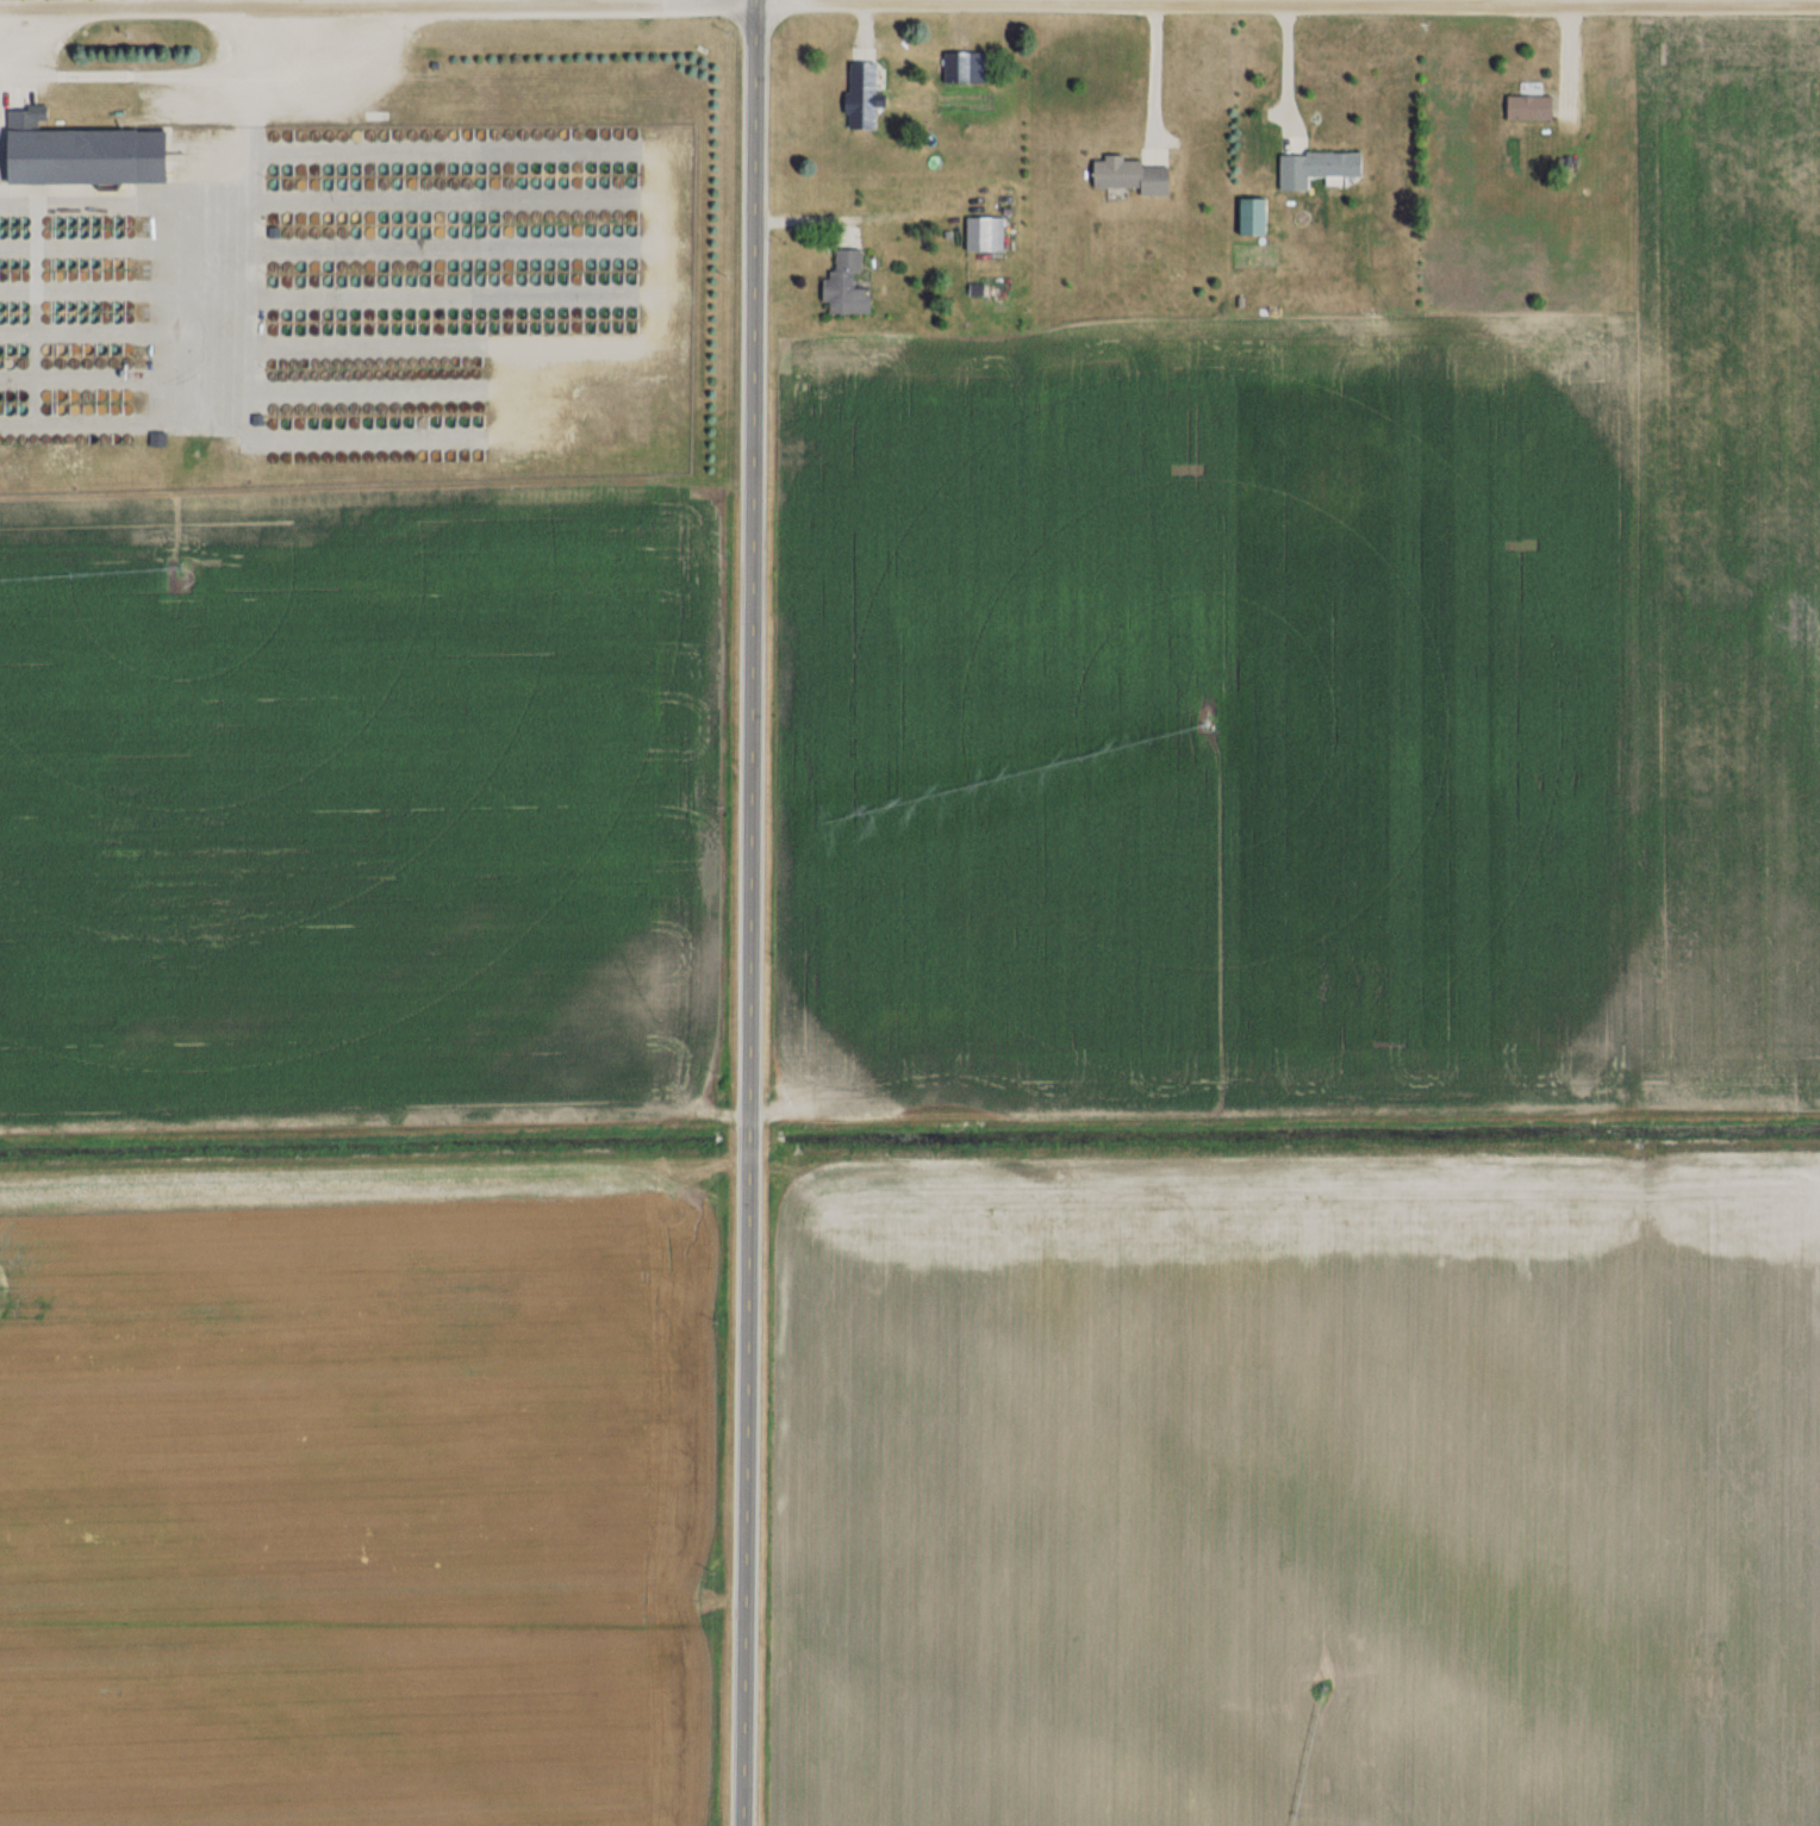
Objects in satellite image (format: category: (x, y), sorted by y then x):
road: (909, 1)
road: (1377, 1)
road: (1502, 1)
road: (1690, 1)
road: (45, 29)
road: (224, 33)
building: (959, 68)
road: (1290, 71)
road: (1157, 73)
road: (192, 74)
road: (40, 82)
building: (870, 95)
building: (1522, 107)
road: (253, 119)
storage tank: (456, 133)
storage tank: (469, 133)
storage tank: (484, 133)
storage tank: (345, 135)
storage tank: (359, 135)
storage tank: (373, 135)
storage tank: (386, 135)
storage tank: (400, 135)
storage tank: (413, 135)
storage tank: (426, 135)
storage tank: (441, 135)
storage tank: (276, 136)
storage tank: (291, 136)
storage tank: (305, 136)
storage tank: (318, 136)
storage tank: (332, 136)
building: (83, 152)
road: (362, 152)
storage tank: (426, 168)
storage tank: (441, 168)
storage tank: (456, 168)
storage tank: (469, 168)
storage tank: (484, 168)
building: (1311, 168)
storage tank: (318, 169)
storage tank: (331, 169)
storage tank: (345, 169)
storage tank: (359, 169)
storage tank: (373, 169)
storage tank: (386, 169)
storage tank: (399, 169)
storage tank: (413, 169)
storage tank: (276, 170)
storage tank: (291, 170)
storage tank: (305, 170)
building: (1126, 176)
storage tank: (456, 182)
storage tank: (470, 182)
storage tank: (484, 182)
storage tank: (332, 183)
storage tank: (345, 183)
storage tank: (360, 183)
storage tank: (373, 183)
storage tank: (387, 183)
storage tank: (400, 183)
storage tank: (413, 183)
storage tank: (428, 183)
storage tank: (442, 183)
storage tank: (278, 185)
storage tank: (291, 185)
storage tank: (305, 185)
storage tank: (318, 185)
road: (362, 201)
road: (113, 202)
storage tank: (386, 217)
storage tank: (399, 217)
storage tank: (413, 217)
storage tank: (426, 217)
storage tank: (441, 217)
storage tank: (456, 217)
storage tank: (469, 217)
storage tank: (484, 217)
building: (1245, 217)
storage tank: (276, 218)
storage tank: (291, 218)
storage tank: (305, 218)
storage tank: (318, 218)
storage tank: (331, 218)
storage tank: (345, 218)
storage tank: (359, 218)
storage tank: (373, 218)
storage tank: (27, 220)
storage tank: (74, 220)
storage tank: (85, 220)
storage tank: (96, 220)
storage tank: (108, 220)
storage tank: (120, 220)
storage tank: (132, 220)
storage tank: (4, 222)
storage tank: (15, 222)
storage tank: (50, 222)
storage tank: (62, 222)
storage tank: (413, 231)
storage tank: (428, 231)
storage tank: (442, 231)
storage tank: (456, 231)
storage tank: (470, 231)
storage tank: (484, 231)
storage tank: (85, 232)
storage tank: (96, 232)
storage tank: (108, 232)
storage tank: (120, 232)
storage tank: (132, 232)
storage tank: (291, 232)
storage tank: (305, 232)
storage tank: (318, 232)
storage tank: (332, 232)
storage tank: (345, 232)
storage tank: (360, 232)
storage tank: (373, 232)
storage tank: (387, 232)
storage tank: (400, 232)
storage tank: (4, 233)
storage tank: (14, 233)
storage tank: (26, 233)
storage tank: (50, 233)
storage tank: (62, 233)
storage tank: (73, 233)
storage tank: (278, 233)
building: (980, 235)
road: (113, 247)
road: (363, 250)
storage tank: (132, 262)
storage tank: (4, 263)
storage tank: (15, 263)
storage tank: (27, 263)
storage tank: (50, 263)
storage tank: (62, 263)
storage tank: (74, 263)
storage tank: (86, 263)
storage tank: (96, 263)
storage tank: (108, 263)
storage tank: (120, 263)
storage tank: (469, 264)
storage tank: (482, 264)
storage tank: (344, 266)
storage tank: (359, 266)
storage tank: (373, 266)
storage tank: (386, 266)
storage tank: (399, 266)
storage tank: (412, 266)
storage tank: (426, 266)
storage tank: (441, 266)
storage tank: (455, 266)
storage tank: (276, 267)
storage tank: (291, 267)
storage tank: (304, 267)
storage tank: (317, 267)
storage tank: (331, 267)
storage tank: (15, 275)
storage tank: (27, 275)
storage tank: (50, 275)
storage tank: (62, 275)
storage tank: (74, 275)
storage tank: (85, 275)
storage tank: (96, 275)
storage tank: (108, 275)
storage tank: (120, 275)
storage tank: (132, 275)
storage tank: (4, 276)
storage tank: (484, 279)
storage tank: (373, 280)
storage tank: (386, 280)
storage tank: (400, 280)
storage tank: (413, 280)
storage tank: (428, 280)
storage tank: (441, 280)
storage tank: (456, 280)
storage tank: (469, 280)
storage tank: (276, 281)
storage tank: (291, 281)
storage tank: (305, 281)
storage tank: (318, 281)
storage tank: (332, 281)
storage tank: (345, 281)
storage tank: (359, 281)
building: (852, 286)
road: (113, 291)
road: (363, 299)
storage tank: (73, 305)
storage tank: (85, 305)
storage tank: (96, 305)
storage tank: (107, 305)
storage tank: (119, 305)
storage tank: (131, 305)
storage tank: (2, 306)
storage tank: (14, 306)
storage tank: (26, 306)
storage tank: (49, 306)
storage tank: (61, 306)
storage tank: (428, 313)
storage tank: (441, 313)
storage tank: (456, 313)
storage tank: (469, 313)
storage tank: (484, 313)
storage tank: (318, 314)
storage tank: (332, 314)
storage tank: (345, 314)
storage tank: (359, 314)
storage tank: (373, 314)
storage tank: (386, 314)
storage tank: (400, 314)
storage tank: (413, 314)
storage tank: (276, 316)
storage tank: (291, 316)
storage tank: (305, 316)
storage tank: (131, 317)
storage tank: (2, 318)
storage tank: (14, 318)
storage tank: (26, 318)
storage tank: (49, 318)
storage tank: (61, 318)
storage tank: (71, 318)
storage tank: (83, 318)
storage tank: (95, 318)
storage tank: (107, 318)
storage tank: (119, 318)
storage tank: (442, 328)
storage tank: (456, 328)
storage tank: (470, 328)
storage tank: (485, 328)
storage tank: (332, 329)
storage tank: (347, 329)
storage tank: (360, 329)
storage tank: (374, 329)
storage tank: (387, 329)
storage tank: (400, 329)
storage tank: (415, 329)
storage tank: (428, 329)
storage tank: (278, 330)
storage tank: (292, 330)
storage tank: (306, 330)
storage tank: (319, 330)
road: (113, 335)
road: (363, 344)
storage tank: (12, 349)
storage tank: (24, 349)
storage tank: (48, 349)
storage tank: (60, 349)
storage tank: (70, 349)
storage tank: (82, 349)
storage tank: (94, 349)
storage tank: (106, 349)
storage tank: (118, 349)
storage tank: (130, 349)
storage tank: (2, 350)
storage tank: (407, 359)
storage tank: (422, 359)
storage tank: (436, 359)
storage tank: (450, 359)
storage tank: (465, 359)
storage tank: (479, 359)
storage tank: (312, 360)
storage tank: (326, 360)
storage tank: (341, 360)
storage tank: (354, 360)
storage tank: (368, 360)
storage tank: (381, 360)
storage tank: (394, 360)
storage tank: (70, 361)
storage tank: (82, 361)
storage tank: (94, 361)
storage tank: (106, 361)
storage tank: (118, 361)
storage tank: (129, 361)
storage tank: (272, 361)
storage tank: (286, 361)
storage tank: (300, 361)
storage tank: (2, 362)
storage tank: (12, 362)
storage tank: (24, 362)
storage tank: (48, 362)
storage tank: (58, 362)
storage tank: (436, 373)
storage tank: (451, 373)
storage tank: (465, 373)
storage tank: (479, 373)
storage tank: (328, 374)
storage tank: (341, 374)
storage tank: (355, 374)
storage tank: (368, 374)
storage tank: (381, 374)
storage tank: (395, 374)
storage tank: (409, 374)
storage tank: (423, 374)
storage tank: (273, 375)
storage tank: (286, 375)
storage tank: (300, 375)
storage tank: (313, 375)
road: (113, 379)
road: (363, 391)
storage tank: (10, 394)
storage tank: (48, 394)
storage tank: (61, 394)
storage tank: (75, 394)
storage tank: (88, 394)
storage tank: (101, 394)
storage tank: (116, 394)
storage tank: (129, 394)
storage tank: (1, 395)
storage tank: (24, 395)
storage tank: (411, 406)
storage tank: (425, 406)
storage tank: (440, 406)
storage tank: (454, 406)
storage tank: (468, 406)
storage tank: (481, 406)
storage tank: (130, 407)
storage tank: (288, 407)
storage tank: (303, 407)
storage tank: (316, 407)
storage tank: (330, 407)
storage tank: (343, 407)
storage tank: (357, 407)
storage tank: (370, 407)
storage tank: (385, 407)
storage tank: (398, 407)
storage tank: (1, 409)
storage tank: (11, 409)
storage tank: (24, 409)
storage tank: (49, 409)
storage tank: (62, 409)
storage tank: (75, 409)
storage tank: (89, 409)
storage tank: (102, 409)
storage tank: (116, 409)
storage tank: (275, 409)
storage tank: (426, 420)
storage tank: (440, 420)
storage tank: (455, 420)
storage tank: (468, 420)
storage tank: (482, 420)
storage tank: (317, 422)
storage tank: (331, 422)
storage tank: (344, 422)
storage tank: (357, 422)
storage tank: (372, 422)
storage tank: (385, 422)
storage tank: (399, 422)
storage tank: (412, 422)
road: (113, 423)
storage tank: (275, 423)
storage tank: (289, 423)
storage tank: (304, 423)
road: (347, 436)
storage tank: (71, 437)
storage tank: (83, 437)
storage tank: (94, 437)
storage tank: (106, 437)
storage tank: (118, 437)
storage tank: (130, 437)
storage tank: (2, 438)
storage tank: (13, 438)
storage tank: (25, 438)
storage tank: (36, 438)
storage tank: (48, 438)
storage tank: (60, 438)
storage tank: (398, 454)
storage tank: (411, 454)
storage tank: (425, 454)
storage tank: (440, 454)
storage tank: (454, 454)
storage tank: (468, 454)
storage tank: (481, 454)
storage tank: (275, 455)
storage tank: (288, 455)
storage tank: (303, 455)
storage tank: (316, 455)
storage tank: (330, 455)
storage tank: (343, 455)
storage tank: (357, 455)
storage tank: (370, 455)
storage tank: (385, 455)
road: (749, 912)

